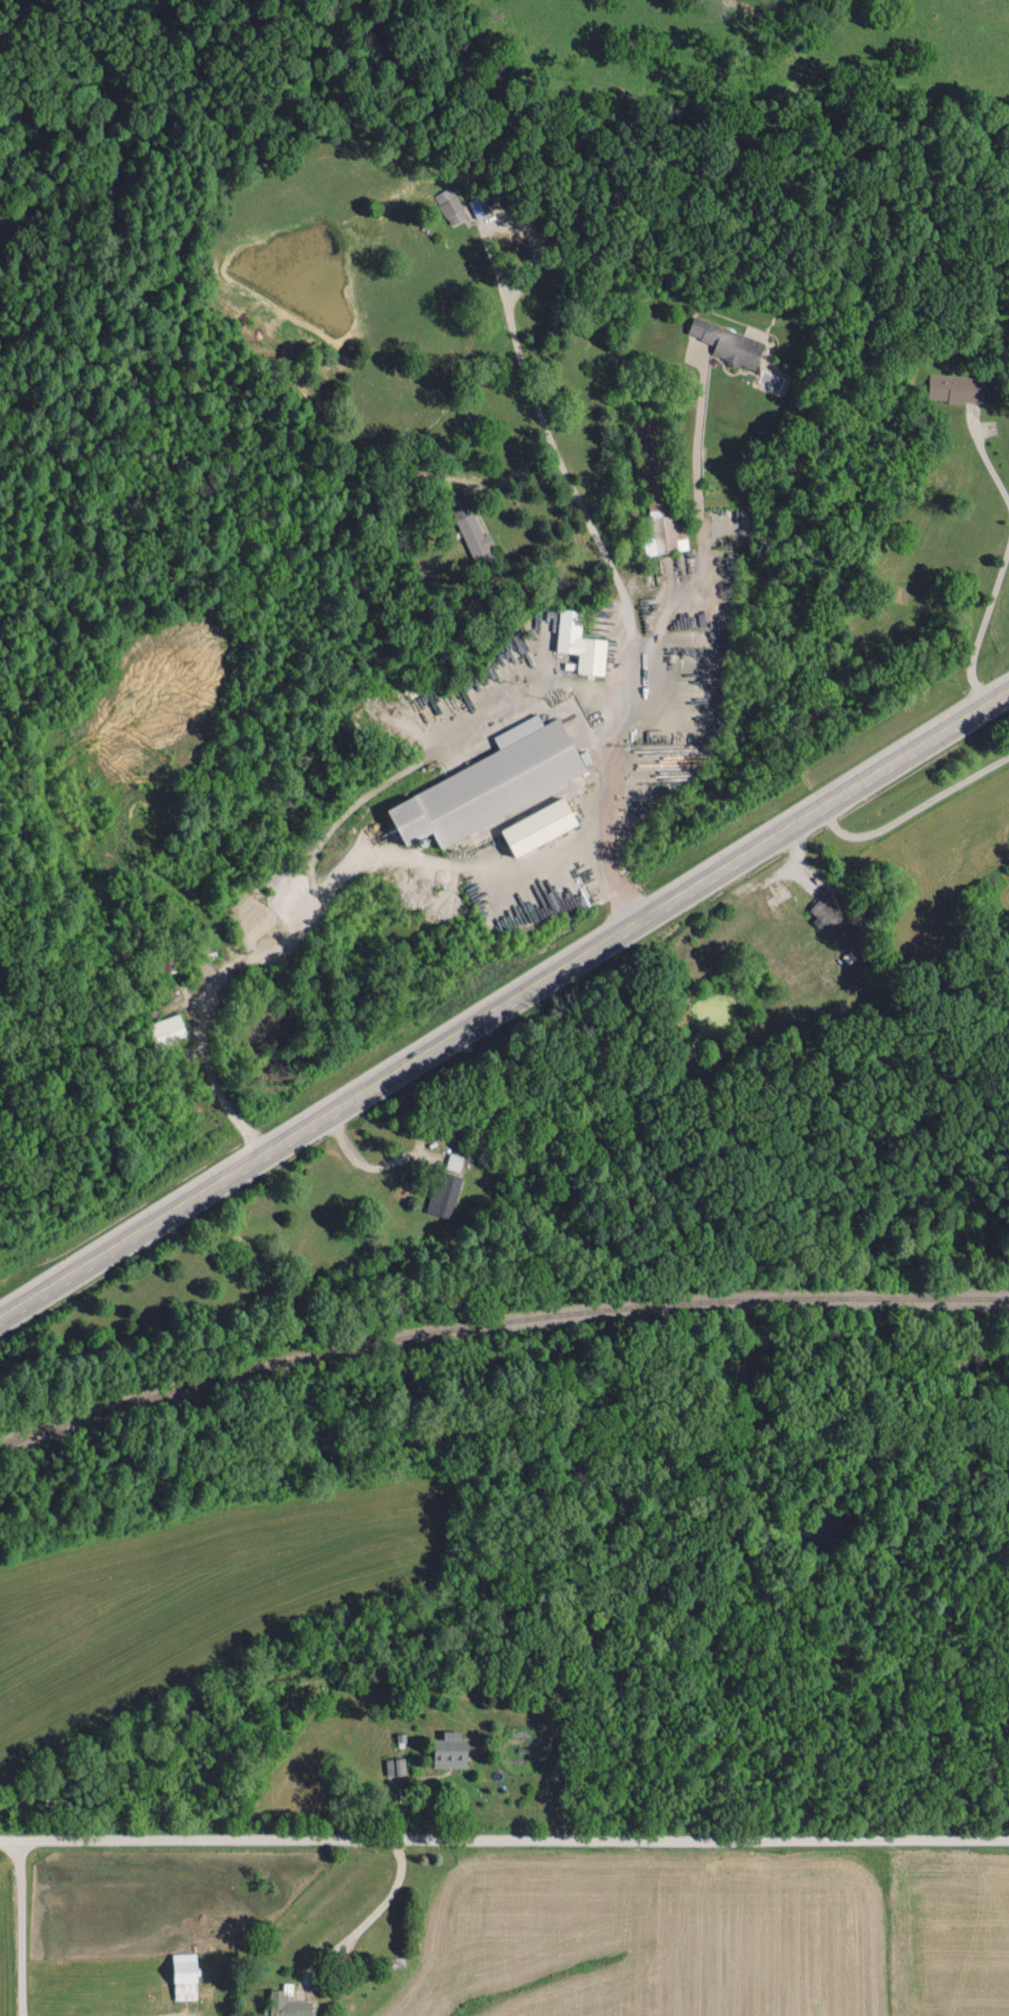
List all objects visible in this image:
building: (449, 205)
building: (478, 205)
building: (728, 343)
building: (954, 388)
building: (663, 531)
building: (475, 538)
building: (580, 643)
building: (486, 782)
building: (540, 827)
building: (826, 911)
road: (505, 999)
building: (167, 1029)
building: (443, 1195)
railway: (496, 1323)
building: (451, 1749)
building: (394, 1766)
road: (504, 1837)
road: (19, 1927)
building: (185, 1976)
building: (287, 2005)

